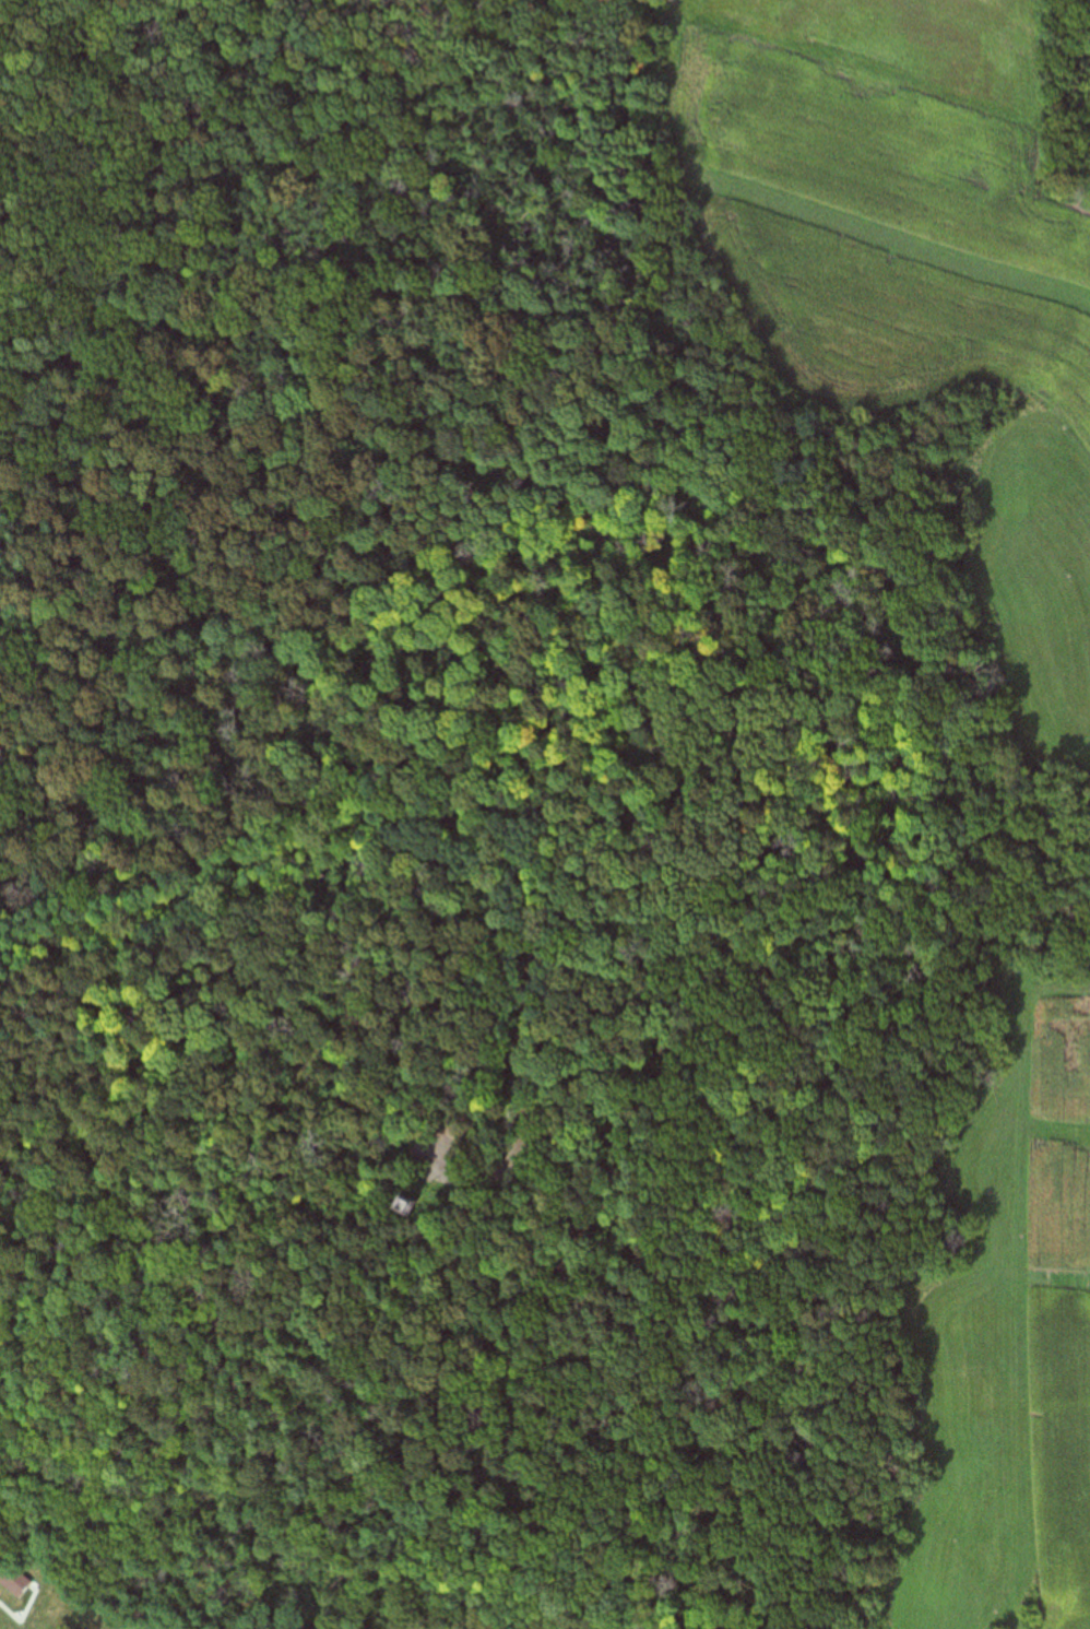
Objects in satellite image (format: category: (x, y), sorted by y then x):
road: (907, 534)
road: (292, 649)
road: (637, 815)
road: (459, 830)
parking lot: (435, 1156)
road: (355, 1203)
road: (185, 1541)
building: (12, 1579)
road: (159, 1594)

